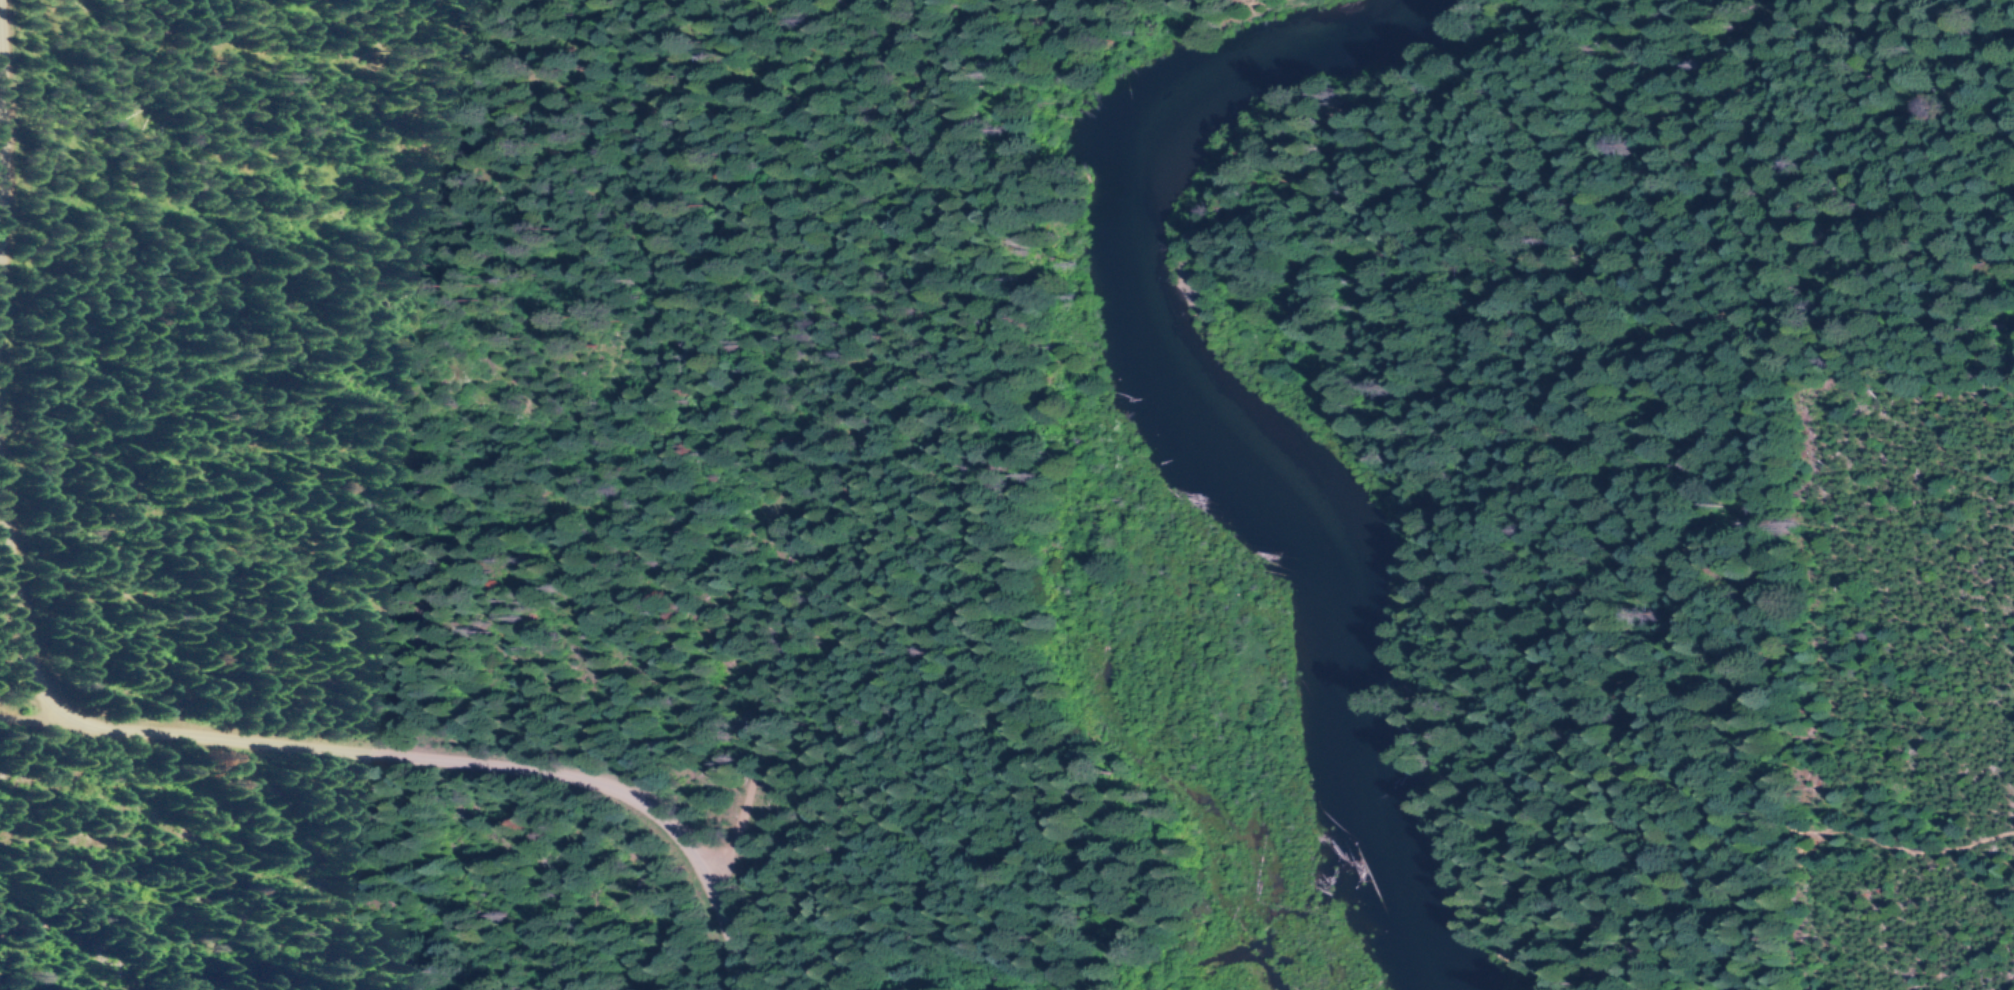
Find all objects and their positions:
road: (1375, 377)
river: (1224, 420)
road: (45, 720)
road: (371, 751)
road: (1913, 850)

